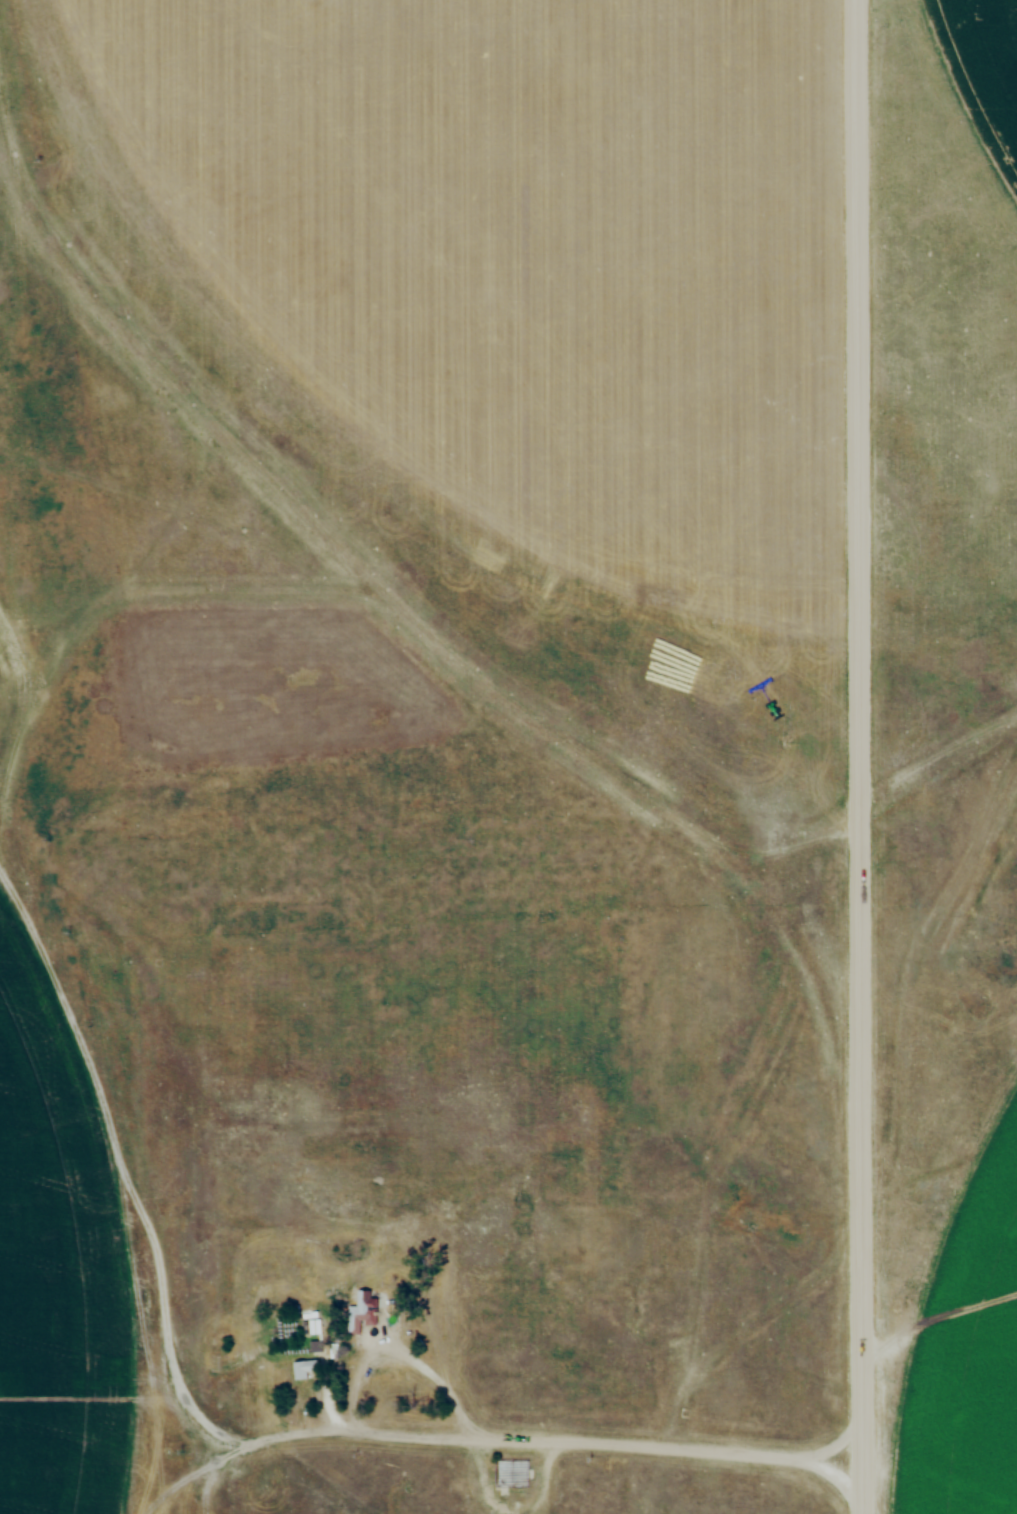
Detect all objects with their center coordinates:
crop: (987, 68)
crop: (524, 253)
road: (857, 757)
crop: (53, 1274)
building: (363, 1311)
crop: (966, 1332)
road: (417, 1363)
building: (307, 1368)
road: (550, 1438)
building: (512, 1471)

